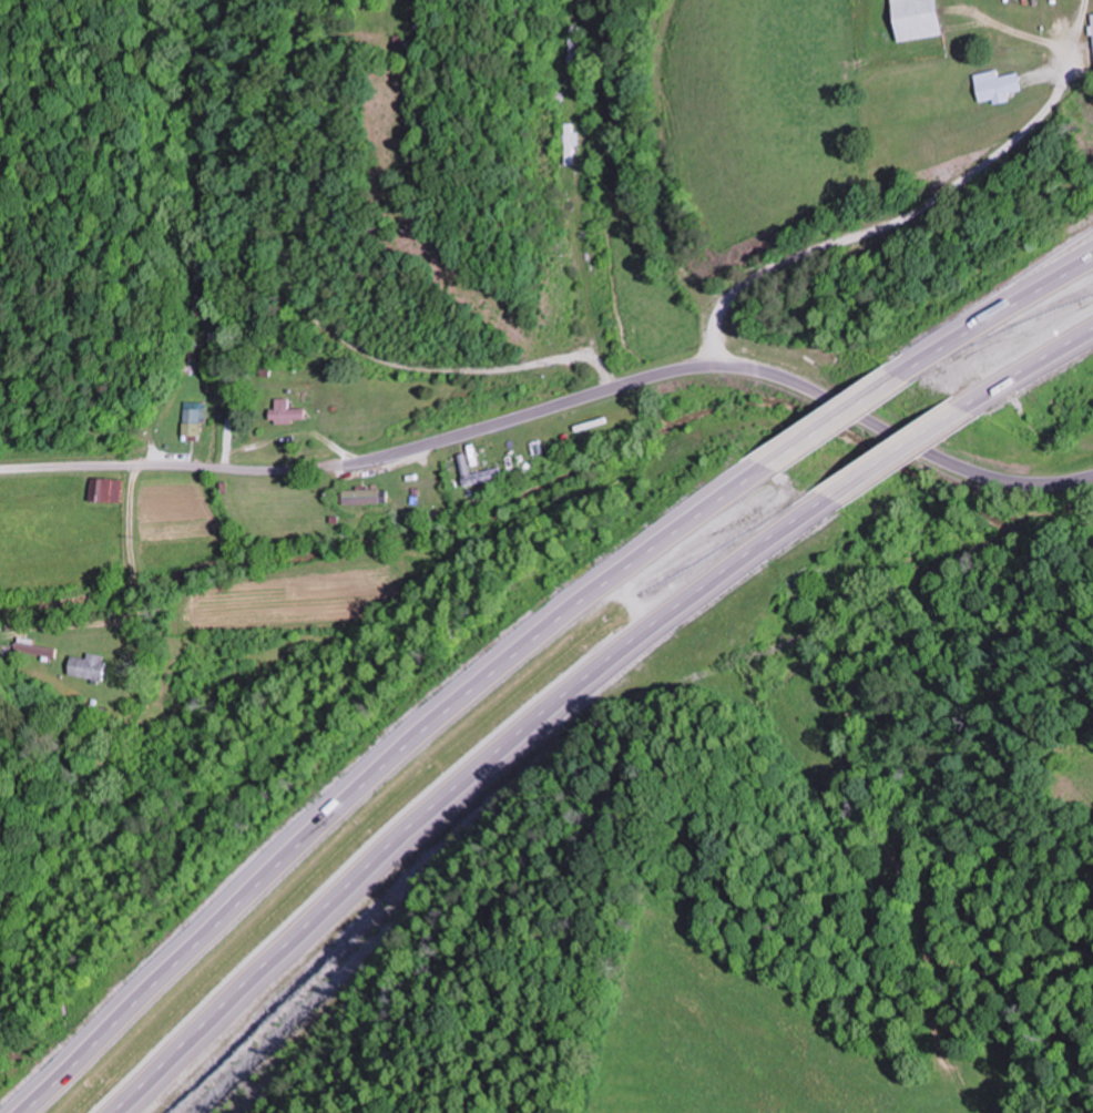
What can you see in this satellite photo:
building: (1092, 14)
building: (917, 19)
building: (995, 85)
road: (885, 225)
road: (1000, 310)
building: (192, 355)
road: (1033, 366)
road: (839, 411)
building: (285, 412)
building: (188, 421)
road: (426, 443)
road: (905, 448)
road: (957, 464)
building: (480, 474)
building: (103, 489)
building: (365, 497)
building: (32, 649)
building: (88, 666)
road: (112, 715)
road: (380, 768)
road: (461, 787)

